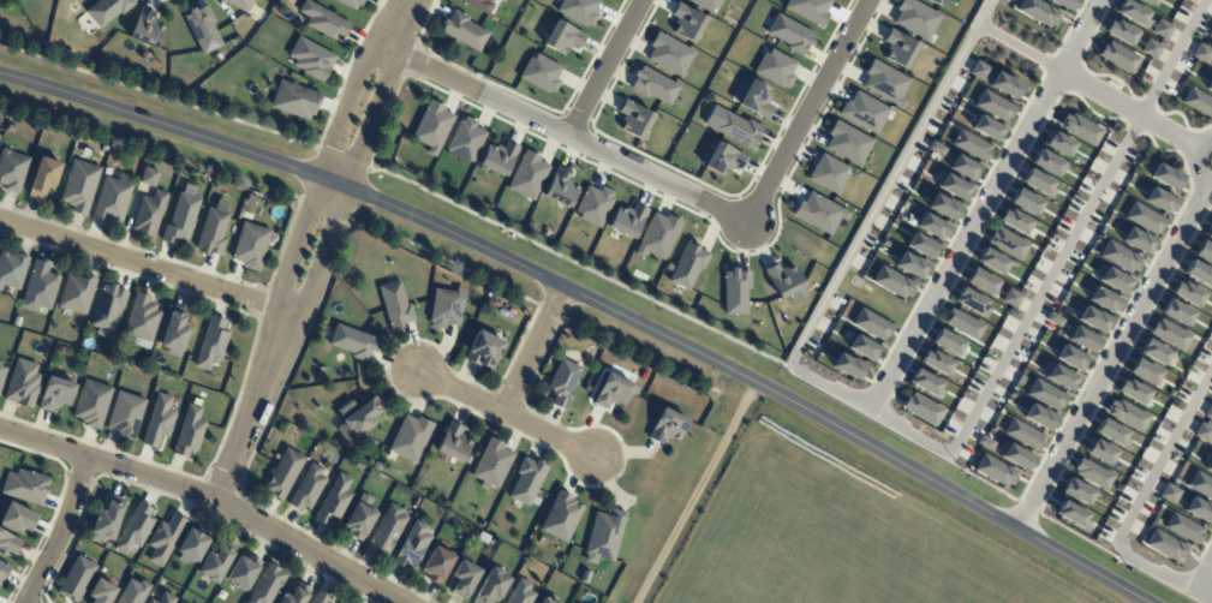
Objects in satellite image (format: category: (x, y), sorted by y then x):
building: (1139, 0)
building: (514, 1)
building: (1150, 1)
building: (351, 2)
building: (936, 2)
building: (239, 4)
building: (706, 4)
building: (1064, 4)
building: (482, 5)
building: (107, 10)
building: (808, 10)
building: (579, 11)
building: (1039, 12)
building: (1134, 13)
building: (917, 18)
building: (323, 20)
building: (687, 22)
road: (401, 24)
building: (145, 29)
building: (202, 29)
building: (1162, 29)
building: (465, 31)
building: (1121, 32)
building: (790, 34)
building: (562, 37)
building: (898, 48)
building: (1152, 49)
building: (669, 54)
building: (1201, 54)
building: (1118, 56)
building: (311, 58)
road: (605, 67)
building: (775, 68)
building: (979, 71)
building: (541, 73)
building: (885, 83)
building: (1005, 84)
building: (653, 85)
building: (1210, 85)
road: (1087, 92)
building: (753, 97)
building: (909, 98)
building: (294, 100)
building: (1198, 102)
building: (993, 106)
road: (806, 112)
building: (864, 112)
building: (633, 119)
building: (431, 127)
building: (986, 127)
building: (738, 129)
building: (1080, 129)
road: (567, 135)
building: (466, 139)
building: (847, 143)
building: (1059, 143)
building: (972, 145)
building: (103, 148)
building: (937, 149)
building: (498, 157)
building: (723, 159)
road: (1195, 161)
building: (1046, 162)
building: (965, 167)
building: (12, 169)
building: (107, 171)
building: (868, 172)
road: (323, 173)
building: (828, 173)
building: (527, 175)
building: (44, 177)
building: (150, 177)
building: (1166, 177)
building: (1039, 183)
road: (347, 184)
building: (80, 186)
building: (560, 186)
building: (953, 186)
building: (114, 198)
building: (1159, 201)
building: (1025, 202)
road: (984, 204)
building: (595, 205)
building: (943, 207)
building: (149, 213)
building: (819, 213)
building: (181, 219)
building: (1145, 219)
building: (627, 220)
building: (1015, 221)
building: (932, 226)
building: (213, 232)
building: (1210, 233)
building: (658, 237)
building: (1138, 240)
building: (1008, 243)
building: (252, 245)
building: (921, 245)
building: (1204, 252)
building: (1121, 257)
building: (992, 261)
road: (143, 264)
building: (1014, 264)
building: (911, 265)
building: (687, 267)
building: (12, 269)
building: (1199, 274)
building: (1114, 280)
building: (981, 281)
building: (786, 282)
building: (892, 282)
building: (41, 288)
building: (735, 291)
building: (77, 293)
building: (1188, 293)
building: (1011, 298)
building: (1104, 300)
road: (593, 301)
building: (972, 301)
building: (394, 304)
building: (489, 304)
building: (108, 306)
building: (444, 308)
building: (1176, 312)
building: (523, 314)
building: (1053, 320)
building: (1093, 320)
building: (143, 321)
building: (17, 322)
building: (963, 323)
building: (872, 324)
building: (175, 330)
building: (847, 334)
building: (1170, 335)
building: (1082, 339)
building: (352, 341)
building: (211, 342)
building: (947, 342)
building: (864, 347)
building: (60, 350)
building: (483, 350)
road: (535, 352)
building: (1154, 352)
road: (1114, 356)
building: (1071, 358)
building: (936, 362)
building: (0, 363)
building: (847, 365)
building: (1144, 371)
building: (1, 375)
building: (1058, 376)
building: (1020, 380)
building: (563, 382)
building: (22, 383)
building: (926, 383)
building: (613, 392)
building: (1133, 392)
building: (1170, 393)
building: (55, 394)
building: (1013, 394)
building: (1045, 395)
building: (91, 404)
road: (253, 407)
building: (346, 407)
building: (923, 408)
building: (1208, 412)
building: (125, 414)
building: (1127, 414)
building: (362, 416)
road: (507, 417)
building: (1039, 417)
building: (159, 422)
building: (667, 426)
road: (911, 430)
building: (189, 431)
building: (1112, 432)
building: (1202, 432)
building: (1023, 435)
building: (410, 437)
building: (453, 442)
building: (985, 443)
building: (1099, 450)
building: (1015, 455)
building: (1208, 461)
building: (491, 462)
building: (359, 466)
building: (995, 470)
building: (282, 473)
building: (1093, 473)
building: (526, 480)
building: (388, 484)
building: (25, 485)
building: (1201, 485)
building: (308, 488)
building: (1076, 491)
road: (695, 492)
building: (1170, 494)
road: (205, 497)
building: (334, 501)
building: (414, 501)
road: (1133, 507)
building: (1199, 509)
building: (1073, 515)
building: (561, 517)
building: (17, 518)
building: (360, 520)
building: (1156, 520)
building: (107, 523)
building: (480, 524)
building: (1183, 529)
building: (135, 530)
building: (388, 530)
road: (61, 532)
building: (604, 536)
building: (482, 537)
building: (166, 539)
building: (8, 543)
building: (193, 544)
building: (1165, 545)
building: (412, 547)
building: (216, 563)
building: (437, 565)
building: (4, 571)
building: (243, 571)
road: (1202, 572)
building: (76, 578)
building: (464, 579)
building: (268, 585)
building: (492, 586)
building: (101, 592)
building: (133, 592)
building: (521, 592)
building: (295, 593)
building: (321, 597)
building: (166, 598)
building: (151, 601)
building: (547, 601)
building: (178, 602)

